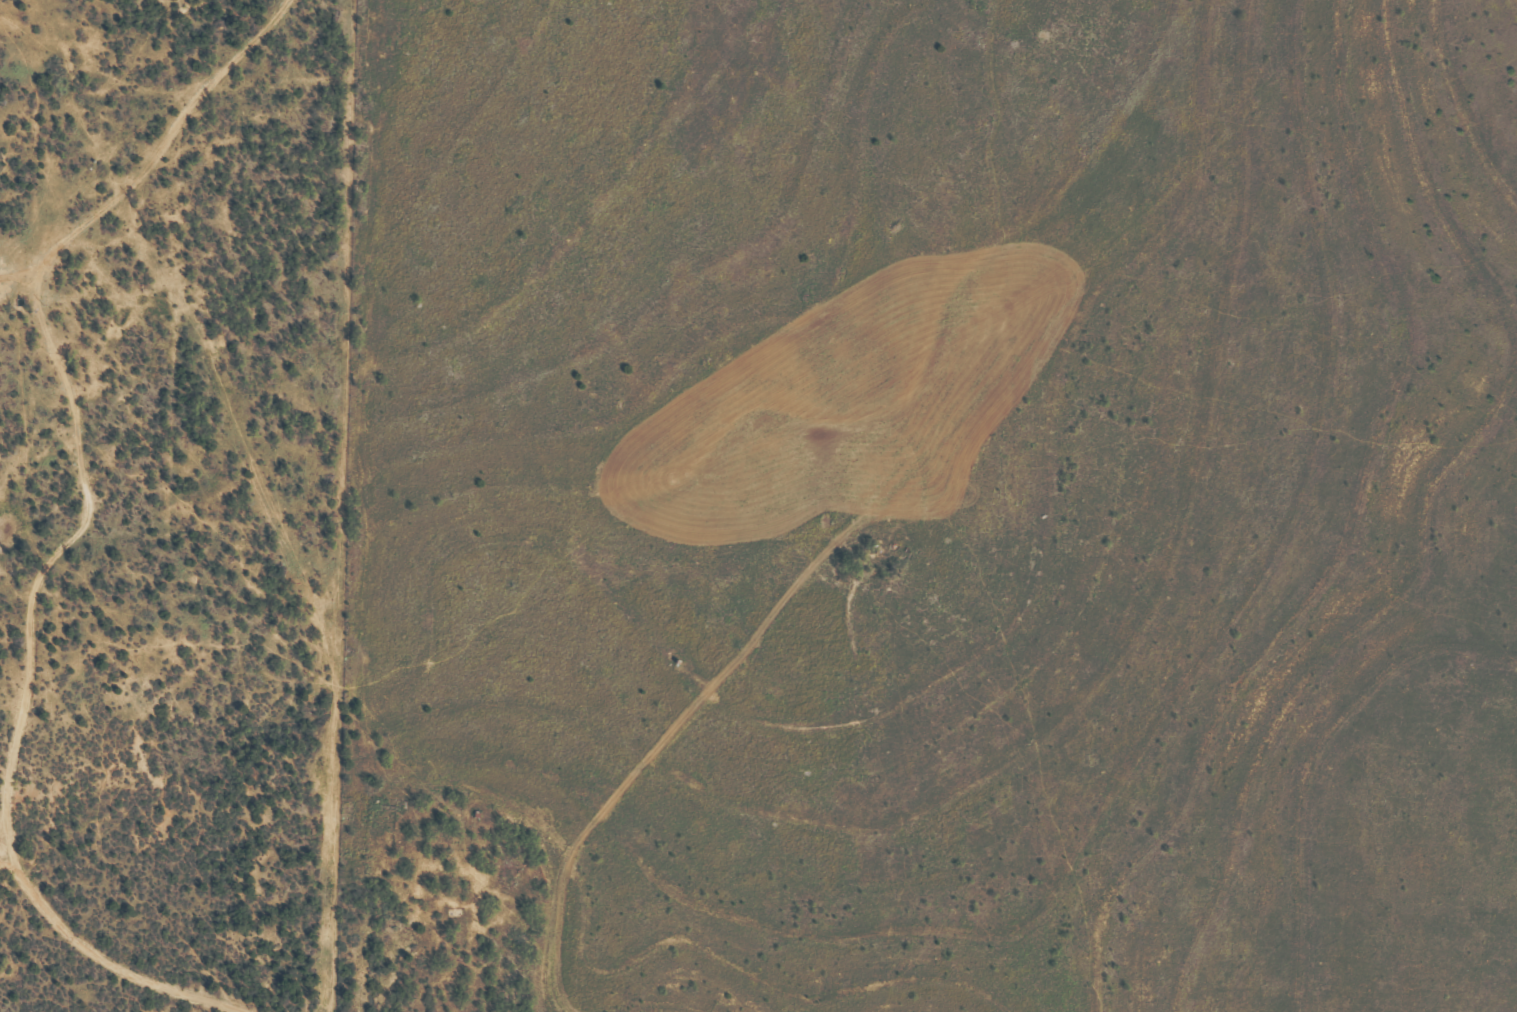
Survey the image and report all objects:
road: (58, 545)
road: (114, 916)

